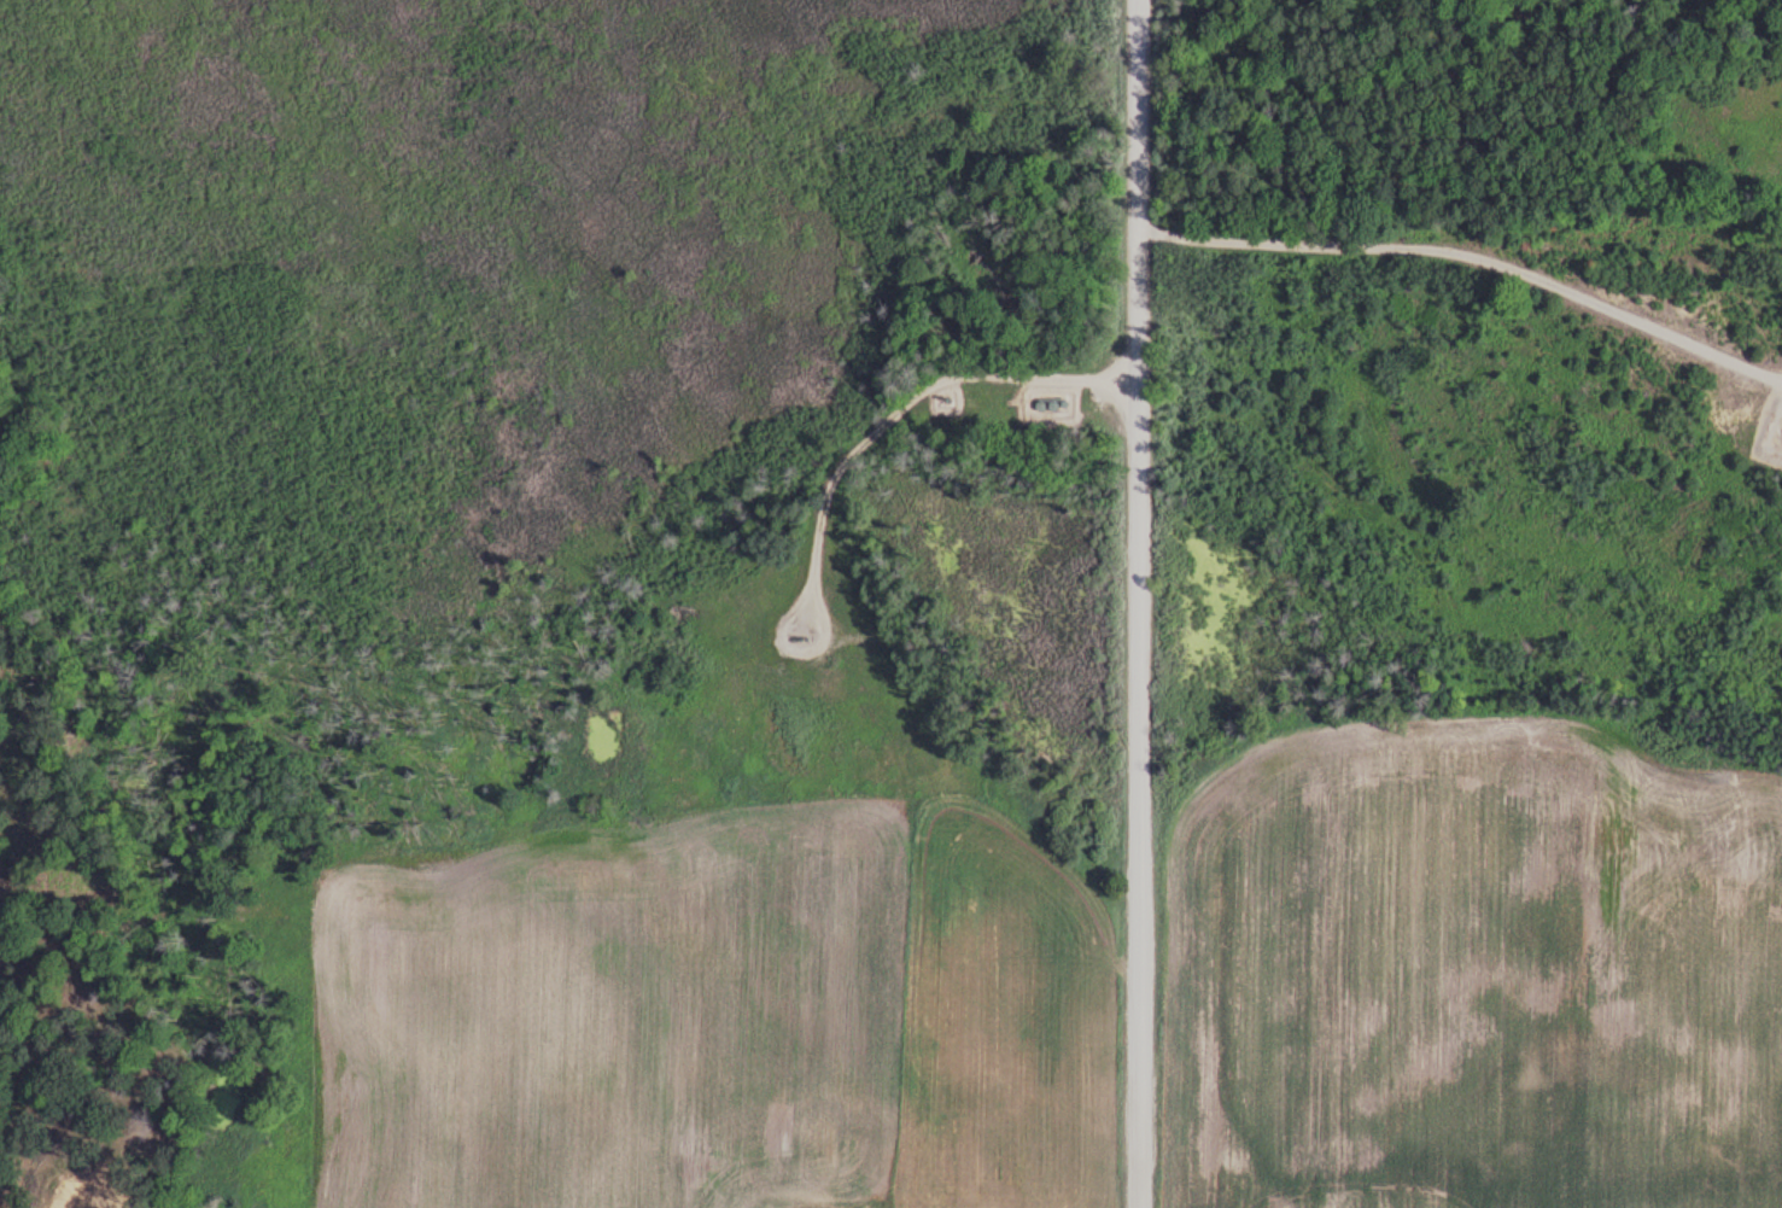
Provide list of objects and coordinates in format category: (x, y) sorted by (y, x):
road: (1471, 263)
road: (925, 419)
road: (1143, 603)
petroleum well: (816, 634)

